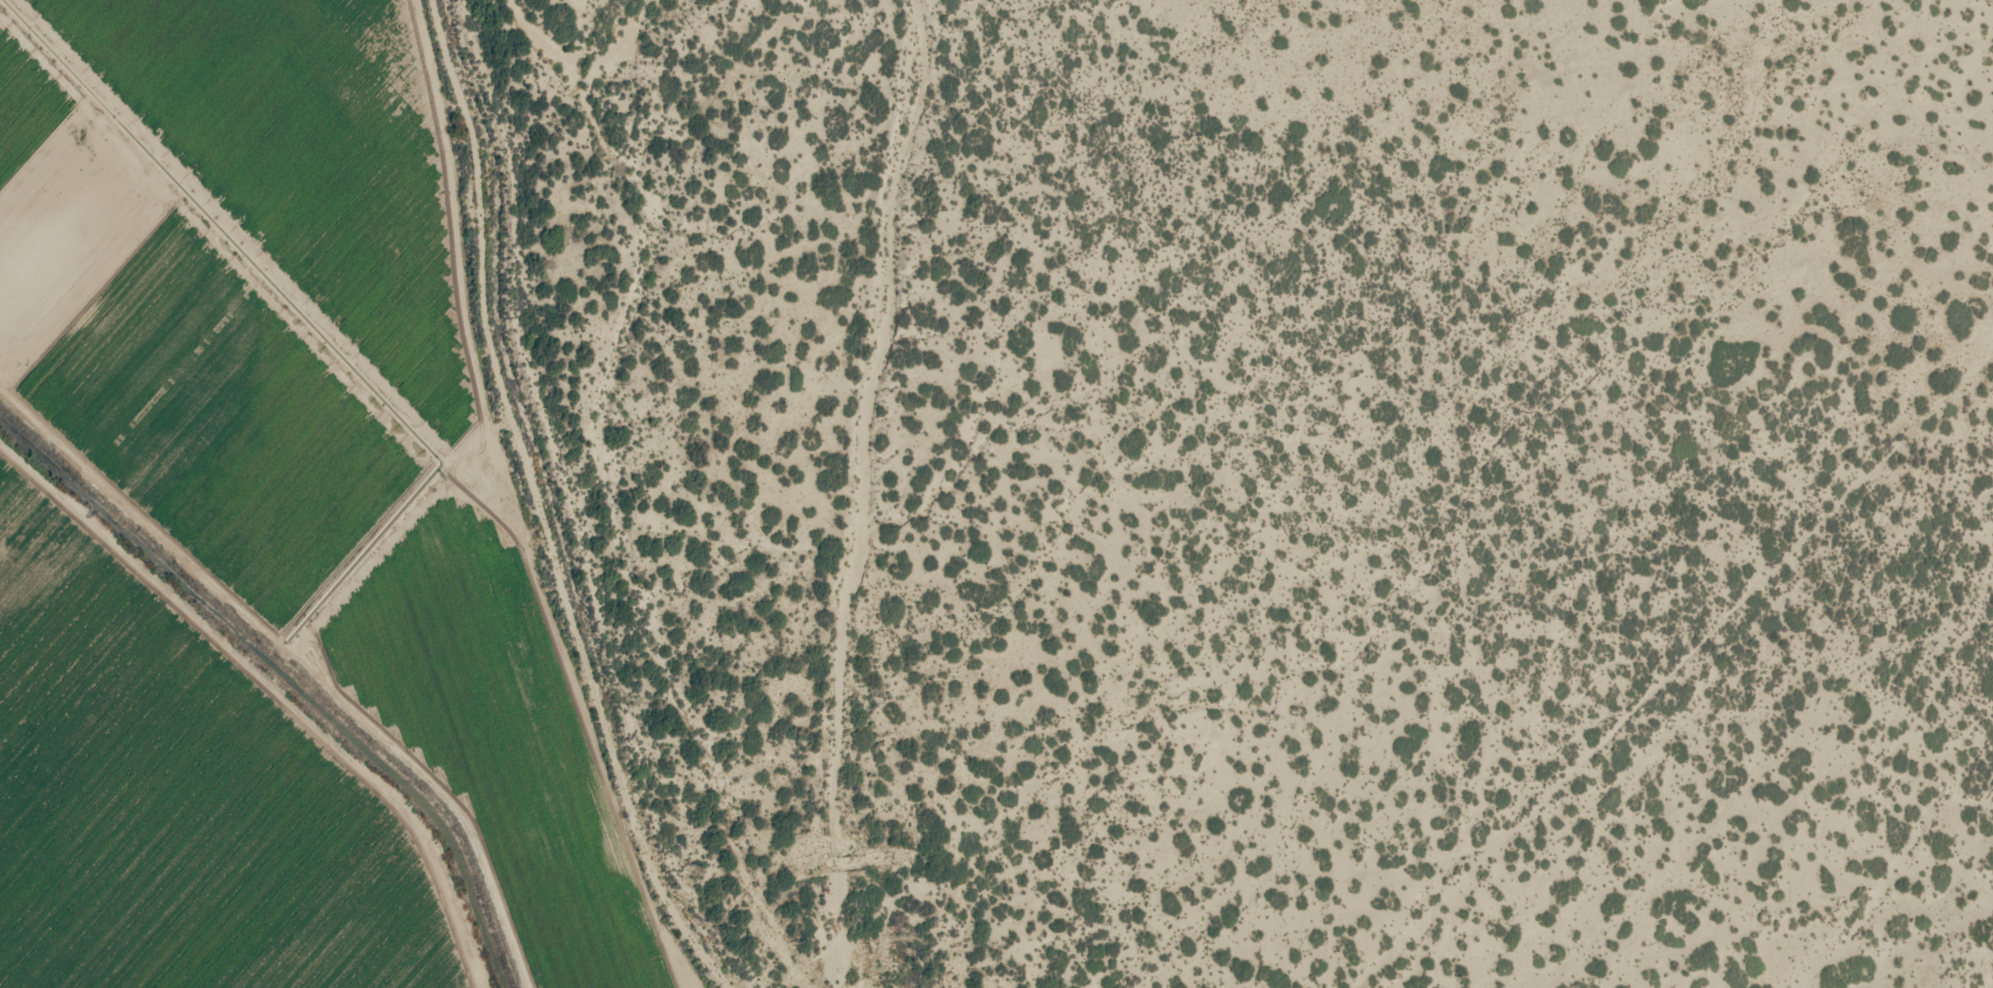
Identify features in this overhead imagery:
railway: (1878, 88)

